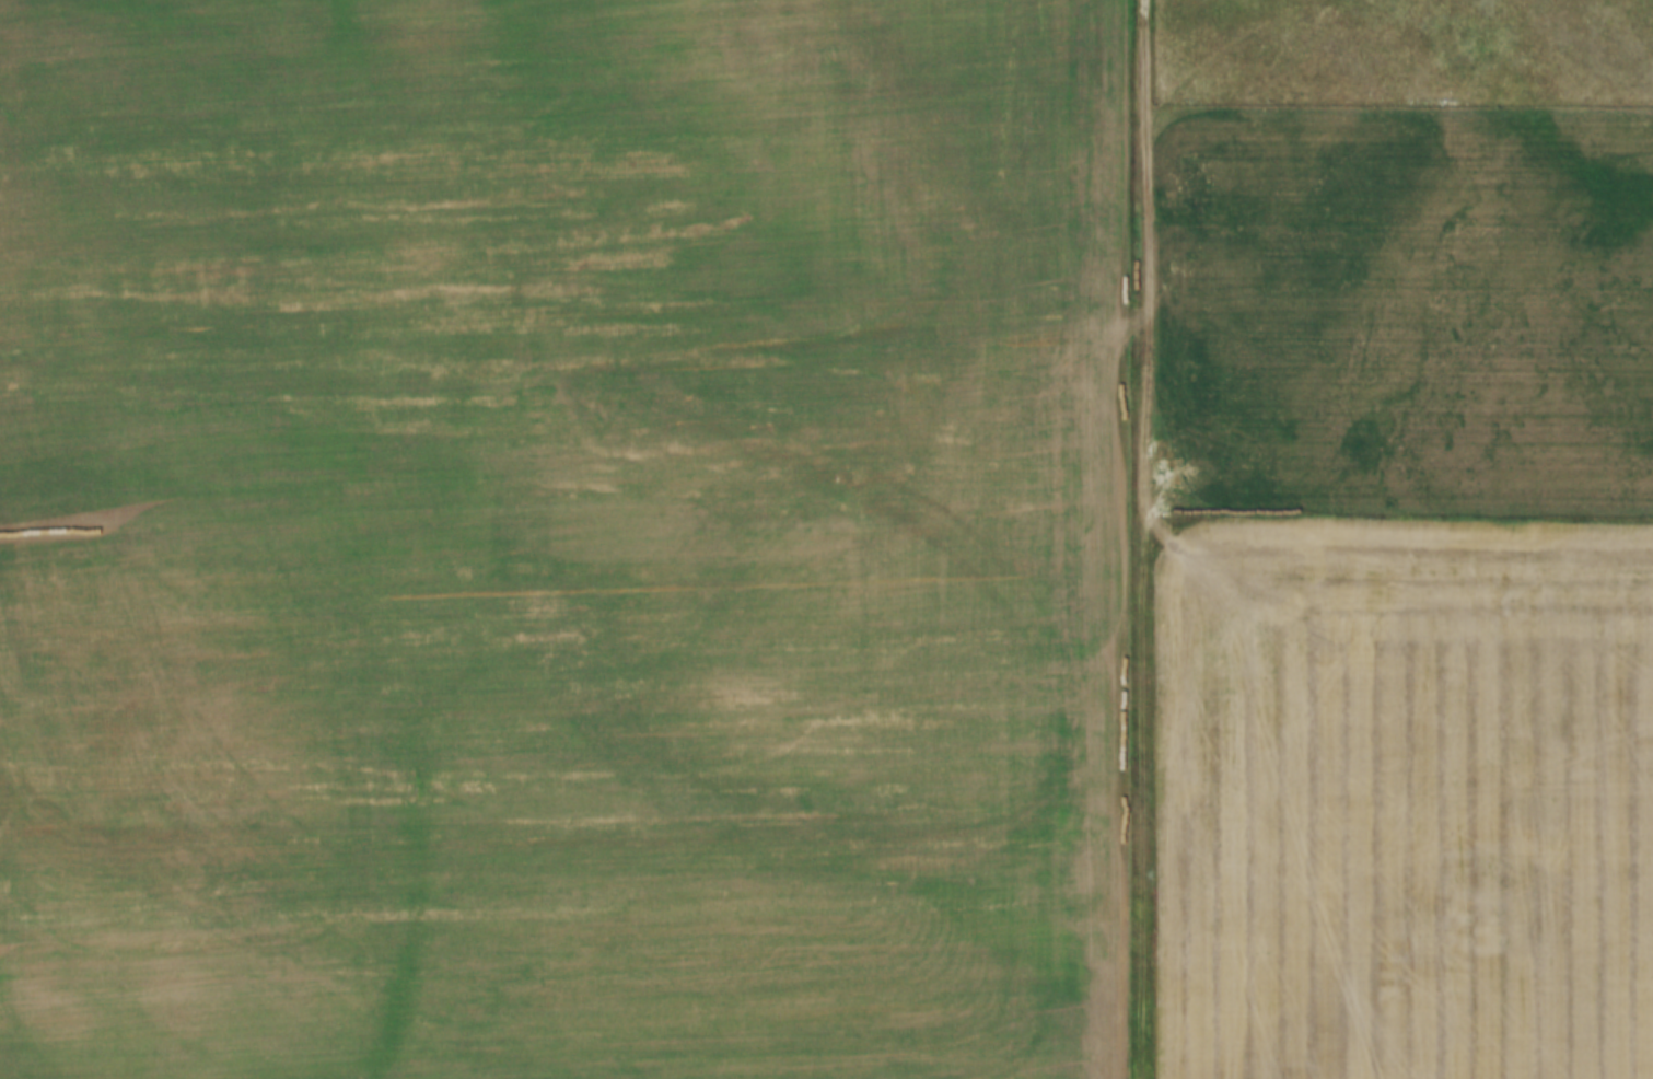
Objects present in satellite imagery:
road: (1146, 538)

